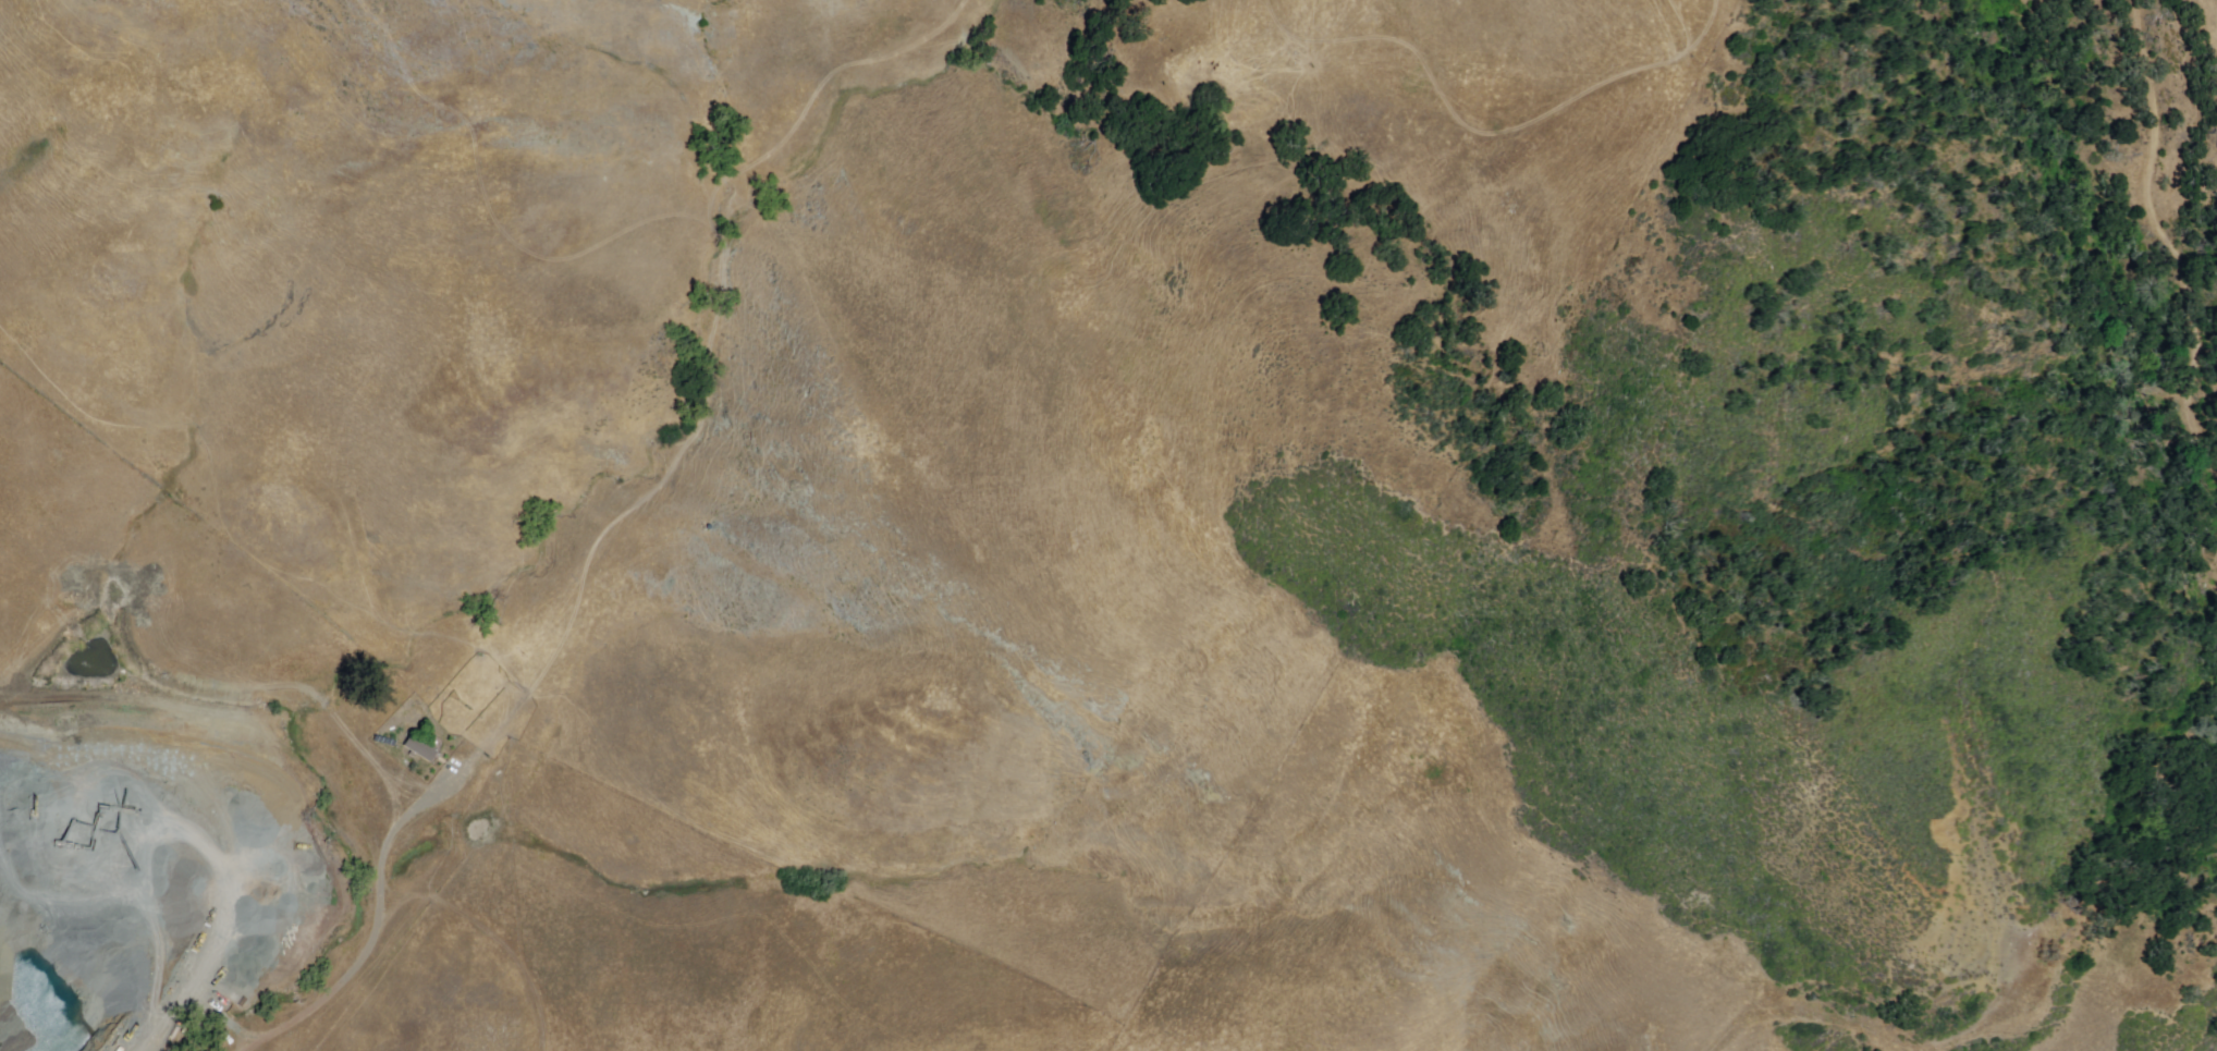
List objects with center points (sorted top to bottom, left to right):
building: (420, 745)
quarry: (138, 889)
road: (377, 925)
road: (143, 1029)

